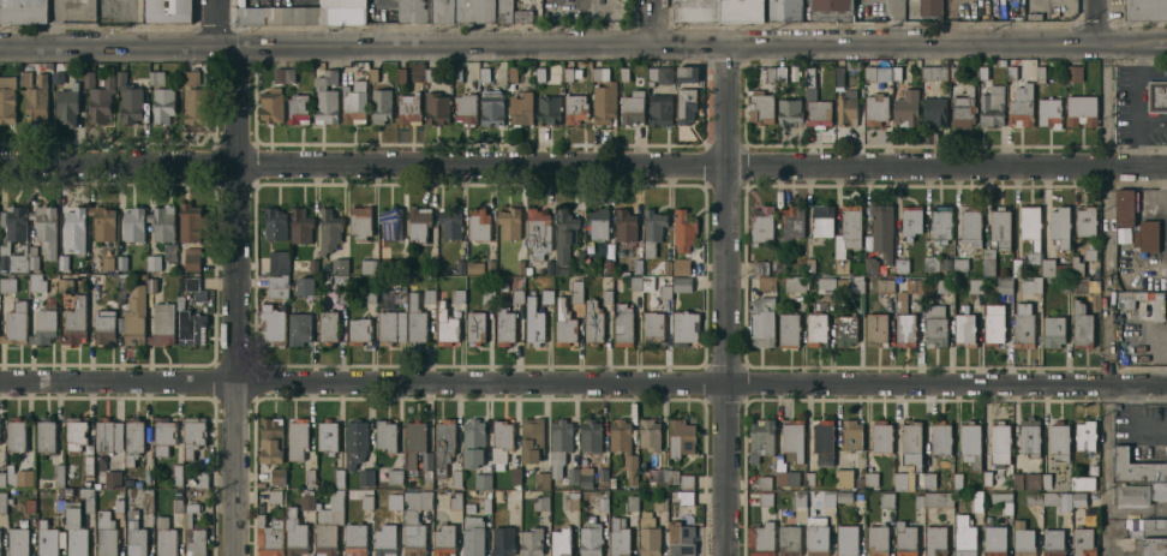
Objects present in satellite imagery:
building: (930, 7)
building: (1145, 8)
building: (444, 10)
building: (719, 10)
building: (784, 10)
building: (831, 10)
building: (24, 11)
building: (167, 11)
building: (415, 11)
building: (474, 11)
building: (515, 11)
building: (301, 13)
road: (603, 22)
road: (1093, 22)
road: (648, 23)
road: (214, 24)
road: (1159, 44)
road: (574, 47)
building: (361, 70)
building: (1013, 71)
building: (540, 72)
building: (782, 72)
building: (934, 72)
building: (954, 72)
building: (983, 72)
building: (1073, 72)
building: (432, 73)
building: (457, 73)
building: (484, 73)
building: (513, 73)
building: (568, 73)
building: (597, 73)
building: (624, 73)
building: (870, 73)
building: (1041, 73)
building: (279, 74)
building: (289, 74)
building: (373, 74)
building: (401, 74)
building: (659, 74)
building: (688, 74)
building: (771, 74)
building: (897, 74)
building: (810, 76)
building: (839, 76)
building: (26, 77)
building: (58, 77)
building: (157, 77)
building: (89, 78)
building: (190, 78)
building: (1156, 96)
building: (327, 97)
building: (7, 98)
building: (128, 98)
building: (37, 100)
building: (101, 100)
building: (604, 102)
building: (67, 103)
building: (162, 104)
building: (353, 104)
building: (381, 104)
building: (686, 104)
building: (1022, 104)
building: (196, 106)
building: (271, 106)
building: (492, 106)
building: (906, 106)
building: (992, 106)
road: (1136, 106)
building: (408, 107)
building: (633, 107)
building: (761, 107)
building: (846, 107)
building: (298, 108)
building: (437, 108)
building: (466, 108)
building: (521, 108)
building: (549, 108)
building: (575, 108)
building: (876, 108)
building: (660, 109)
building: (1082, 109)
building: (789, 110)
building: (934, 110)
building: (963, 110)
building: (1049, 112)
building: (819, 113)
road: (1151, 125)
road: (583, 161)
building: (1124, 207)
building: (822, 220)
building: (190, 221)
building: (360, 221)
building: (792, 221)
building: (911, 221)
building: (941, 221)
building: (1087, 221)
building: (14, 222)
building: (102, 222)
building: (162, 222)
building: (391, 222)
building: (419, 222)
building: (450, 222)
building: (509, 222)
building: (598, 222)
building: (74, 223)
building: (133, 223)
building: (274, 223)
building: (478, 223)
building: (761, 223)
building: (969, 223)
building: (299, 225)
building: (626, 225)
building: (851, 225)
building: (1060, 226)
building: (1000, 227)
building: (46, 228)
building: (683, 228)
building: (1030, 228)
building: (329, 229)
building: (652, 229)
building: (882, 229)
building: (537, 233)
building: (564, 234)
building: (1148, 235)
building: (169, 251)
building: (34, 257)
building: (12, 258)
building: (192, 258)
building: (962, 259)
building: (64, 262)
building: (106, 262)
building: (122, 262)
building: (154, 262)
building: (279, 262)
building: (989, 262)
building: (930, 263)
building: (945, 263)
building: (92, 264)
building: (783, 264)
building: (810, 264)
building: (872, 264)
building: (902, 264)
building: (312, 265)
building: (369, 265)
building: (431, 265)
building: (461, 265)
building: (550, 265)
building: (608, 265)
building: (638, 265)
building: (681, 265)
building: (845, 265)
building: (339, 267)
building: (475, 267)
building: (490, 267)
building: (520, 267)
building: (668, 267)
building: (761, 267)
building: (1017, 267)
building: (1055, 268)
building: (1078, 269)
building: (528, 270)
building: (82, 280)
building: (37, 282)
building: (124, 282)
building: (636, 282)
building: (767, 282)
building: (151, 283)
building: (648, 283)
building: (682, 283)
building: (795, 283)
building: (1035, 283)
building: (7, 285)
building: (65, 285)
building: (305, 285)
building: (826, 285)
building: (857, 285)
building: (885, 285)
building: (915, 285)
building: (945, 285)
building: (976, 285)
building: (1005, 285)
building: (1066, 285)
building: (192, 286)
building: (277, 286)
building: (1081, 286)
building: (340, 288)
building: (576, 291)
building: (665, 291)
building: (370, 294)
building: (457, 294)
building: (399, 295)
building: (427, 295)
building: (487, 295)
building: (517, 295)
building: (547, 295)
building: (608, 295)
road: (1108, 300)
road: (235, 301)
road: (722, 301)
building: (1129, 301)
building: (1157, 309)
building: (134, 316)
building: (415, 319)
building: (74, 321)
building: (533, 321)
building: (593, 321)
building: (761, 321)
building: (904, 321)
building: (16, 323)
building: (162, 323)
building: (273, 323)
building: (564, 323)
building: (994, 323)
building: (445, 324)
building: (504, 324)
building: (623, 324)
building: (1082, 324)
building: (43, 325)
building: (103, 325)
building: (387, 325)
building: (935, 325)
building: (191, 327)
building: (299, 327)
building: (328, 327)
building: (475, 327)
building: (653, 327)
building: (684, 327)
building: (816, 328)
building: (789, 329)
building: (846, 329)
building: (876, 329)
building: (965, 329)
building: (1023, 329)
building: (358, 330)
building: (1053, 330)
building: (1124, 351)
road: (583, 382)
road: (1133, 426)
building: (16, 434)
building: (74, 434)
building: (193, 434)
building: (650, 434)
building: (46, 435)
building: (108, 435)
building: (163, 435)
building: (387, 435)
building: (473, 435)
building: (591, 435)
building: (851, 435)
building: (1085, 435)
building: (328, 436)
building: (881, 436)
building: (1029, 436)
building: (297, 437)
building: (681, 437)
building: (761, 437)
building: (794, 437)
building: (941, 437)
building: (532, 438)
building: (133, 440)
building: (271, 440)
building: (1059, 440)
building: (822, 441)
building: (355, 442)
building: (414, 442)
building: (501, 442)
building: (999, 442)
building: (970, 443)
building: (444, 444)
building: (559, 444)
building: (623, 447)
building: (910, 454)
building: (88, 465)
building: (1136, 467)
building: (483, 471)
building: (658, 473)
building: (59, 474)
building: (176, 474)
building: (277, 476)
building: (310, 476)
building: (365, 476)
building: (395, 476)
building: (515, 476)
building: (573, 476)
building: (592, 476)
building: (674, 476)
building: (785, 476)
building: (25, 477)
building: (427, 477)
building: (455, 477)
building: (844, 477)
building: (987, 477)
building: (1, 478)
building: (112, 478)
building: (199, 478)
building: (339, 478)
building: (812, 478)
building: (872, 478)
building: (541, 479)
building: (930, 479)
building: (687, 480)
building: (957, 480)
building: (1033, 480)
building: (1047, 480)
building: (764, 482)
building: (1082, 482)
building: (138, 483)
building: (614, 483)
building: (1141, 492)
building: (858, 495)
building: (275, 496)
building: (684, 496)
building: (844, 496)
building: (766, 497)
building: (1034, 497)
building: (88, 498)
building: (148, 498)
building: (800, 498)
building: (828, 498)
building: (939, 498)
building: (1058, 498)
building: (1079, 498)
building: (337, 500)
building: (455, 500)
building: (886, 500)
building: (920, 500)
building: (977, 500)
building: (307, 501)
building: (395, 501)
building: (569, 501)
building: (1003, 501)
building: (2, 502)
building: (119, 502)
building: (366, 502)
building: (540, 502)
building: (633, 502)
building: (417, 503)
building: (603, 503)
building: (659, 503)
building: (60, 504)
building: (176, 504)
building: (485, 504)
building: (30, 506)
building: (469, 507)
building: (76, 530)
building: (1150, 530)
building: (0, 532)
building: (193, 532)
building: (294, 532)
building: (325, 533)
building: (106, 534)
building: (648, 534)
building: (473, 536)
building: (818, 536)
building: (164, 537)
building: (269, 537)
building: (620, 537)
building: (964, 537)
building: (355, 538)
building: (681, 538)
building: (47, 539)
building: (136, 539)
building: (385, 539)
building: (414, 539)
building: (591, 539)
building: (762, 539)
building: (846, 539)
building: (878, 539)
building: (905, 539)
building: (994, 539)
building: (1023, 539)
building: (444, 540)
building: (503, 540)
building: (789, 540)
building: (935, 540)
building: (18, 542)
building: (532, 542)
building: (561, 542)
building: (1054, 542)
building: (1083, 542)
building: (0, 544)
building: (1155, 546)

